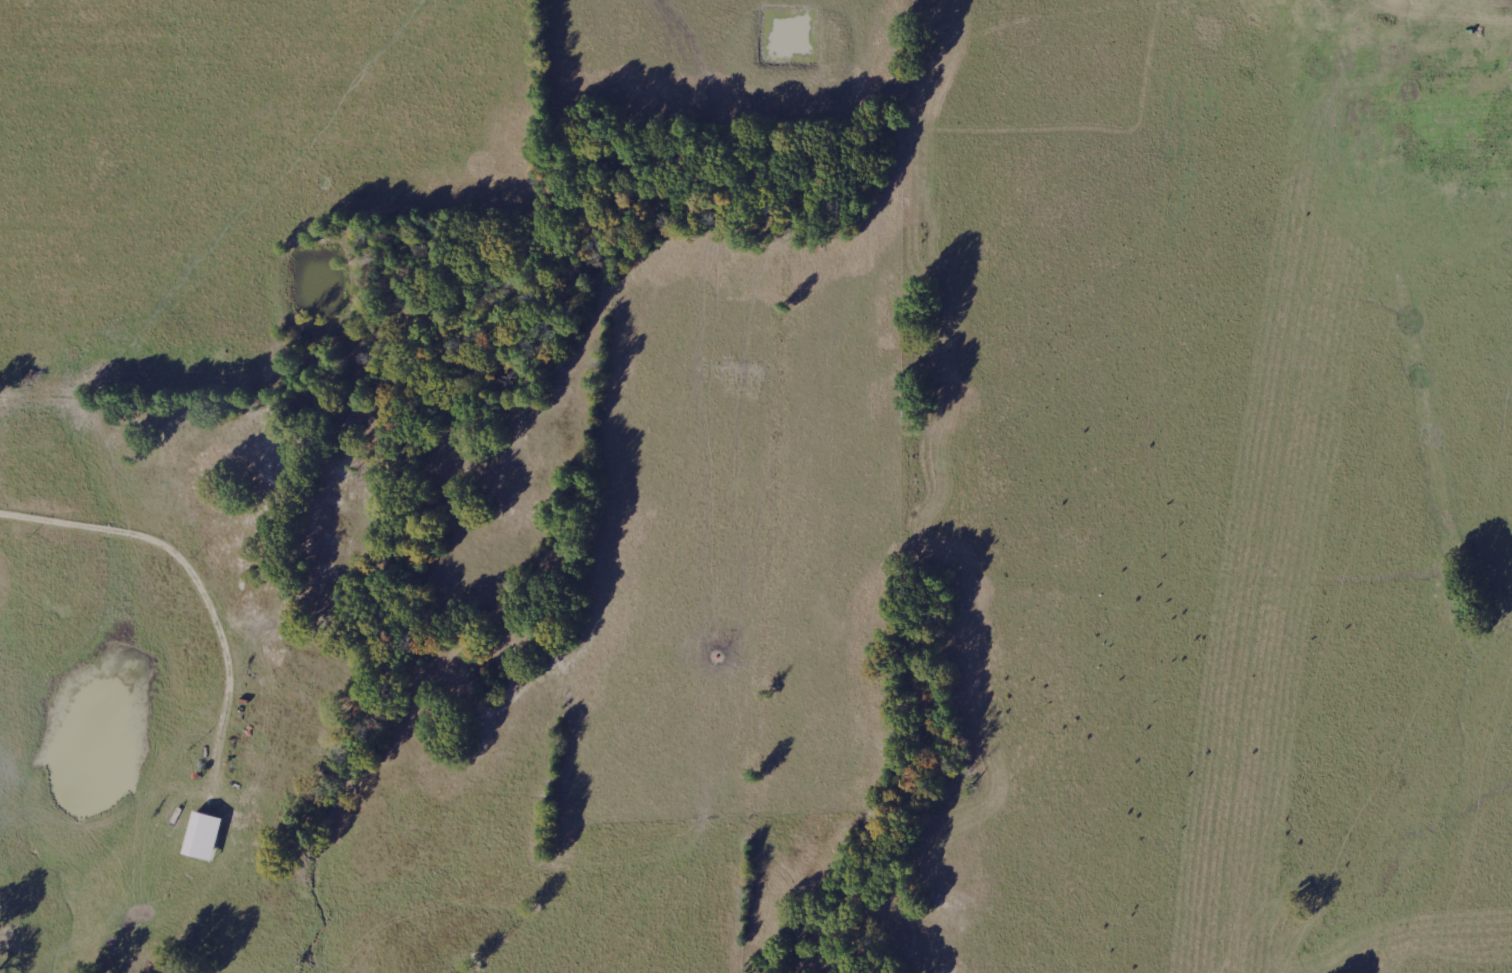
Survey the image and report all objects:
building: (202, 837)

